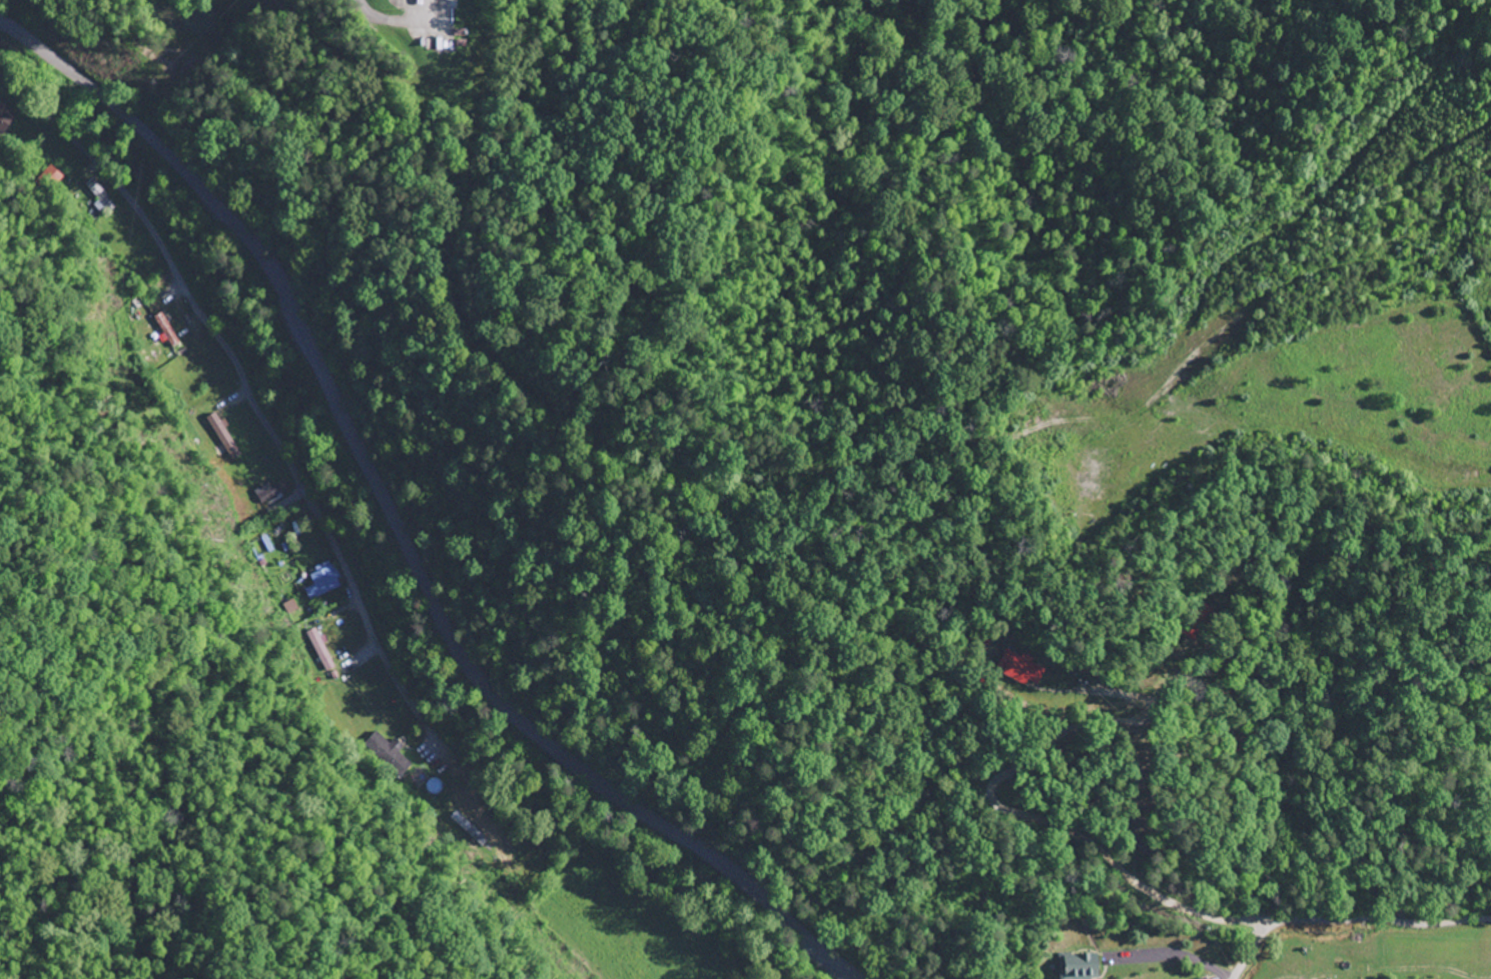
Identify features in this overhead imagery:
building: (6, 118)
building: (102, 198)
building: (169, 332)
road: (247, 383)
building: (227, 438)
building: (275, 492)
road: (401, 529)
building: (326, 582)
building: (323, 651)
building: (1024, 669)
building: (393, 754)
road: (1347, 921)
building: (1083, 967)
building: (1208, 978)

